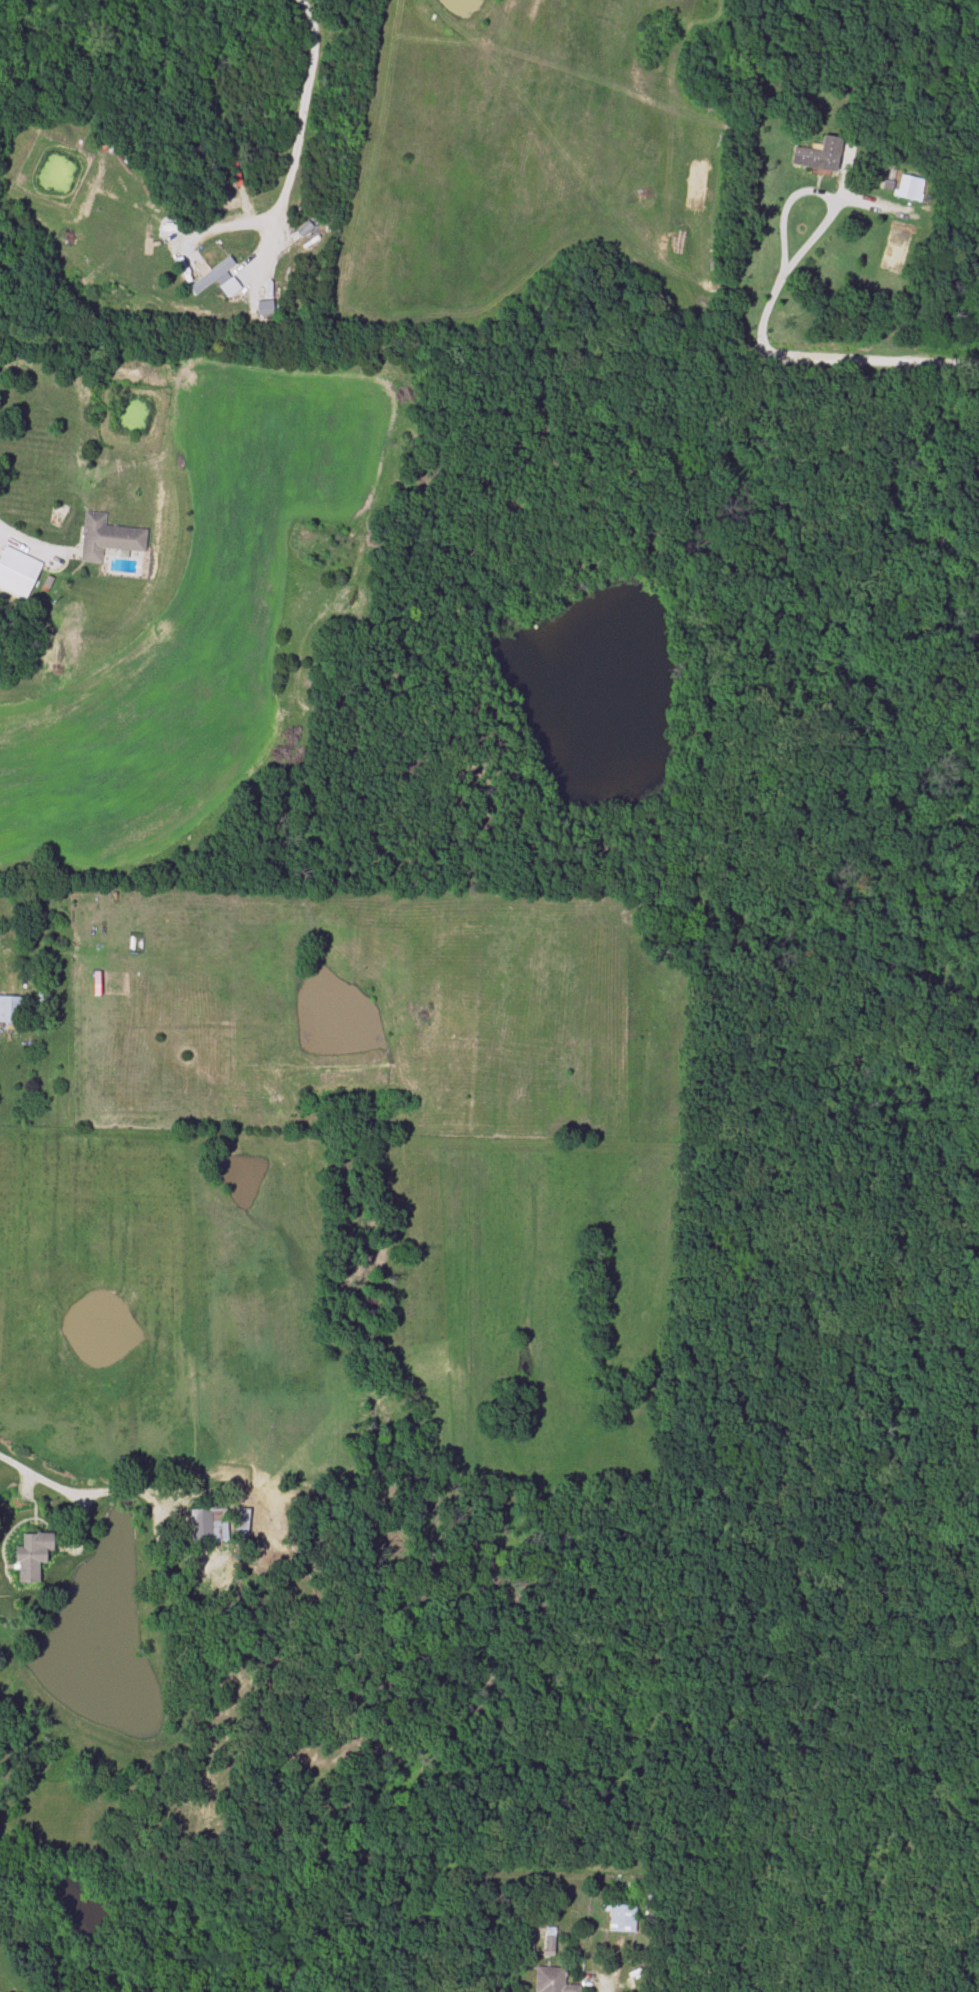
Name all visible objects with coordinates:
road: (298, 133)
building: (820, 156)
building: (909, 188)
road: (815, 225)
building: (211, 276)
building: (146, 303)
road: (873, 359)
building: (108, 538)
road: (29, 545)
building: (18, 569)
building: (11, 1009)
road: (22, 1469)
building: (241, 1522)
building: (209, 1526)
building: (33, 1557)
building: (622, 1919)
building: (553, 1981)

